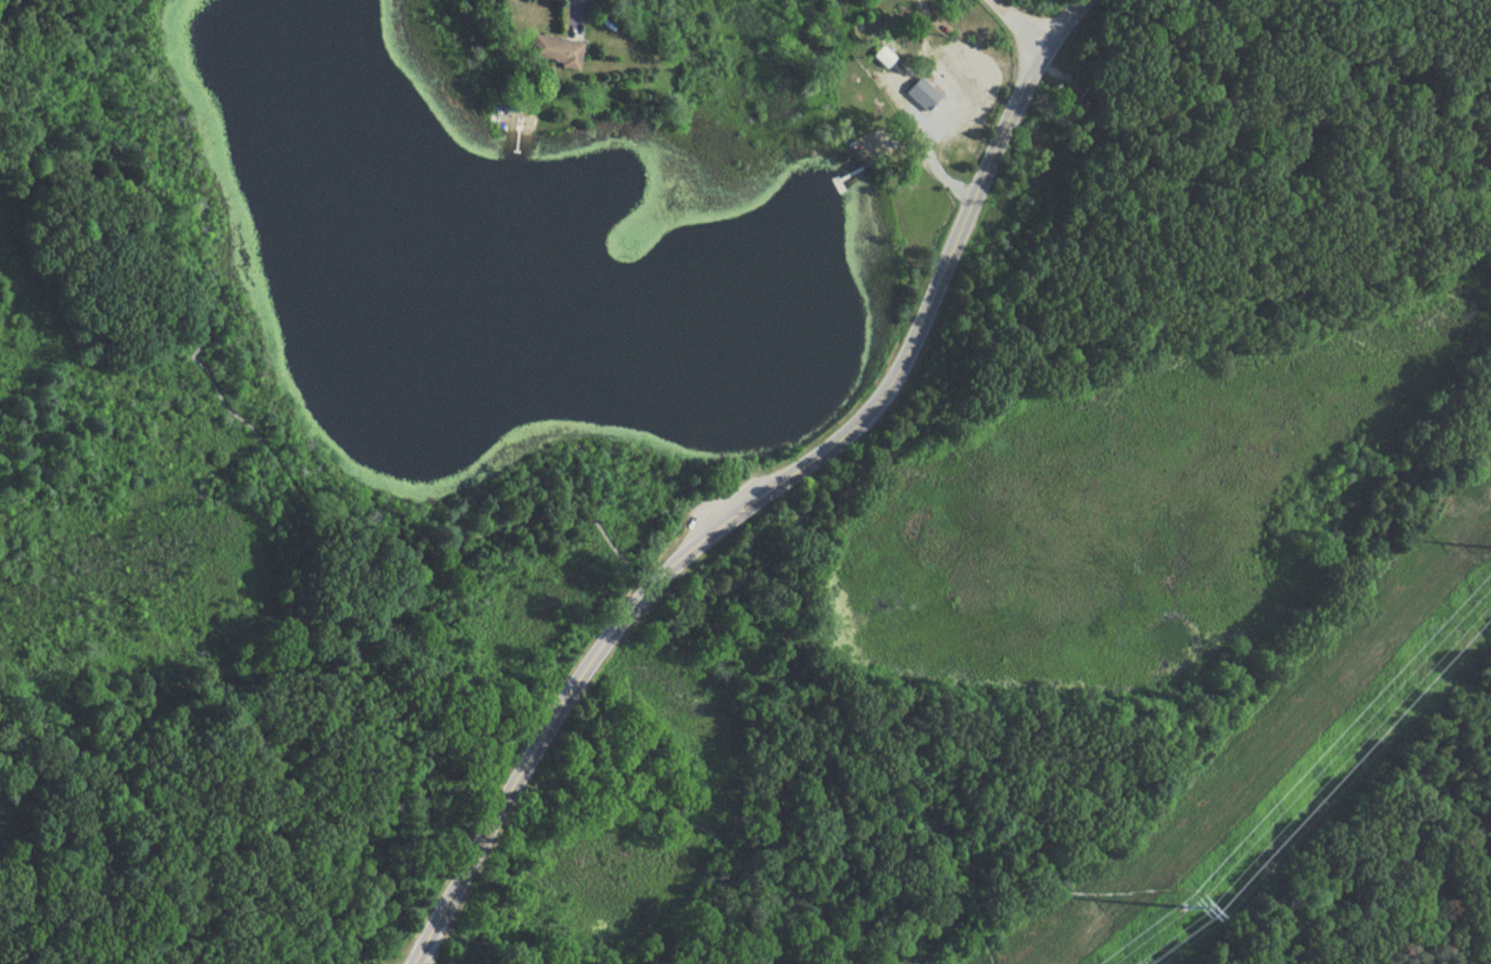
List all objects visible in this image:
road: (1022, 25)
building: (553, 50)
road: (1483, 142)
road: (95, 244)
road: (1032, 347)
road: (242, 420)
road: (764, 484)
park: (743, 511)
road: (604, 536)
road: (467, 540)
road: (501, 771)
road: (322, 777)
road: (708, 832)
road: (758, 896)
road: (1222, 897)
power tower: (1187, 909)

